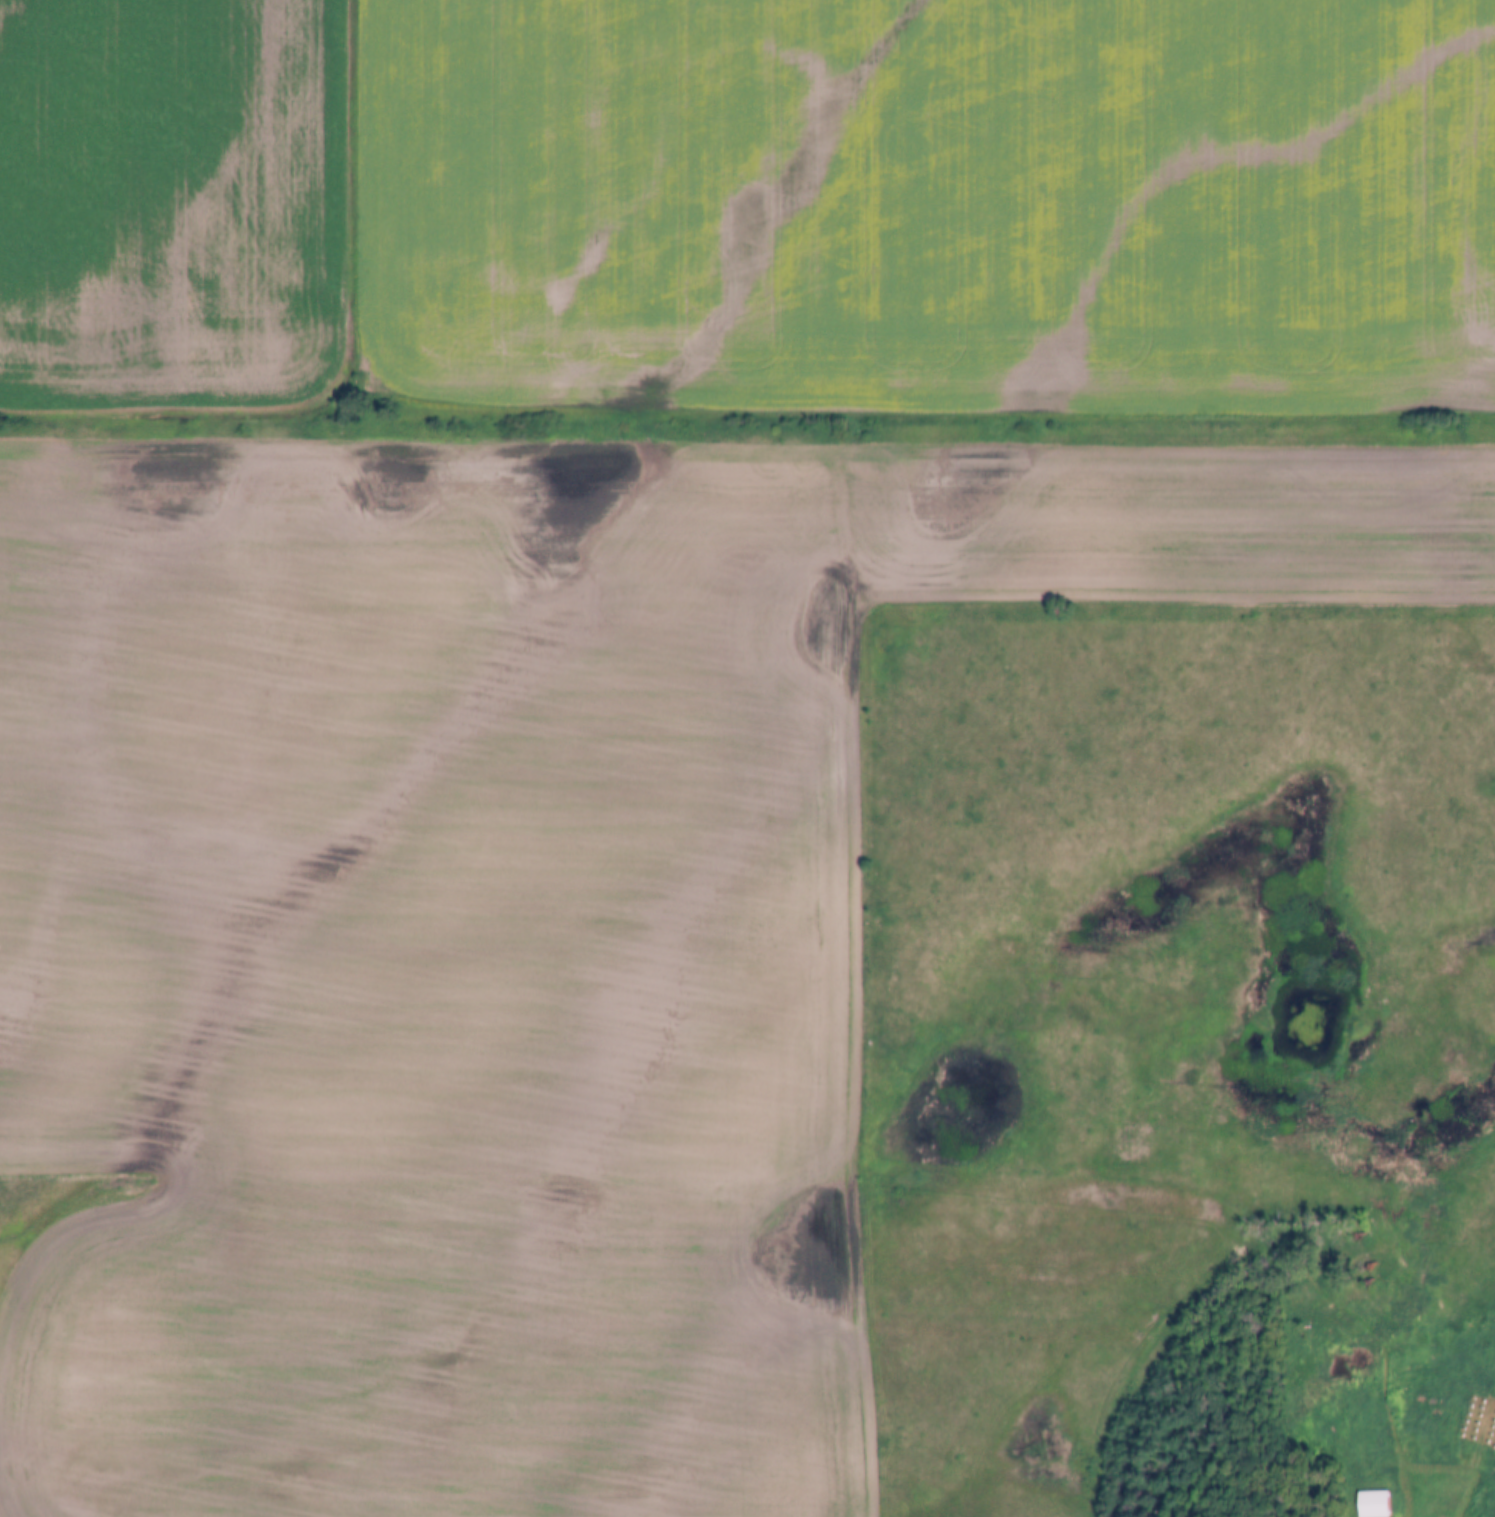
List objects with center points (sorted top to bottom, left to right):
crop: (170, 202)
building: (1381, 1500)

